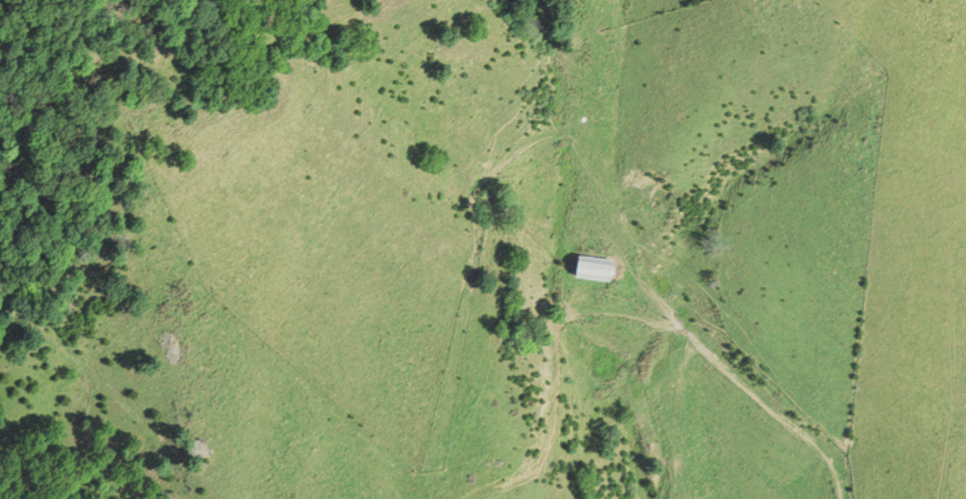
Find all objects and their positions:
building: (597, 268)
road: (723, 357)

